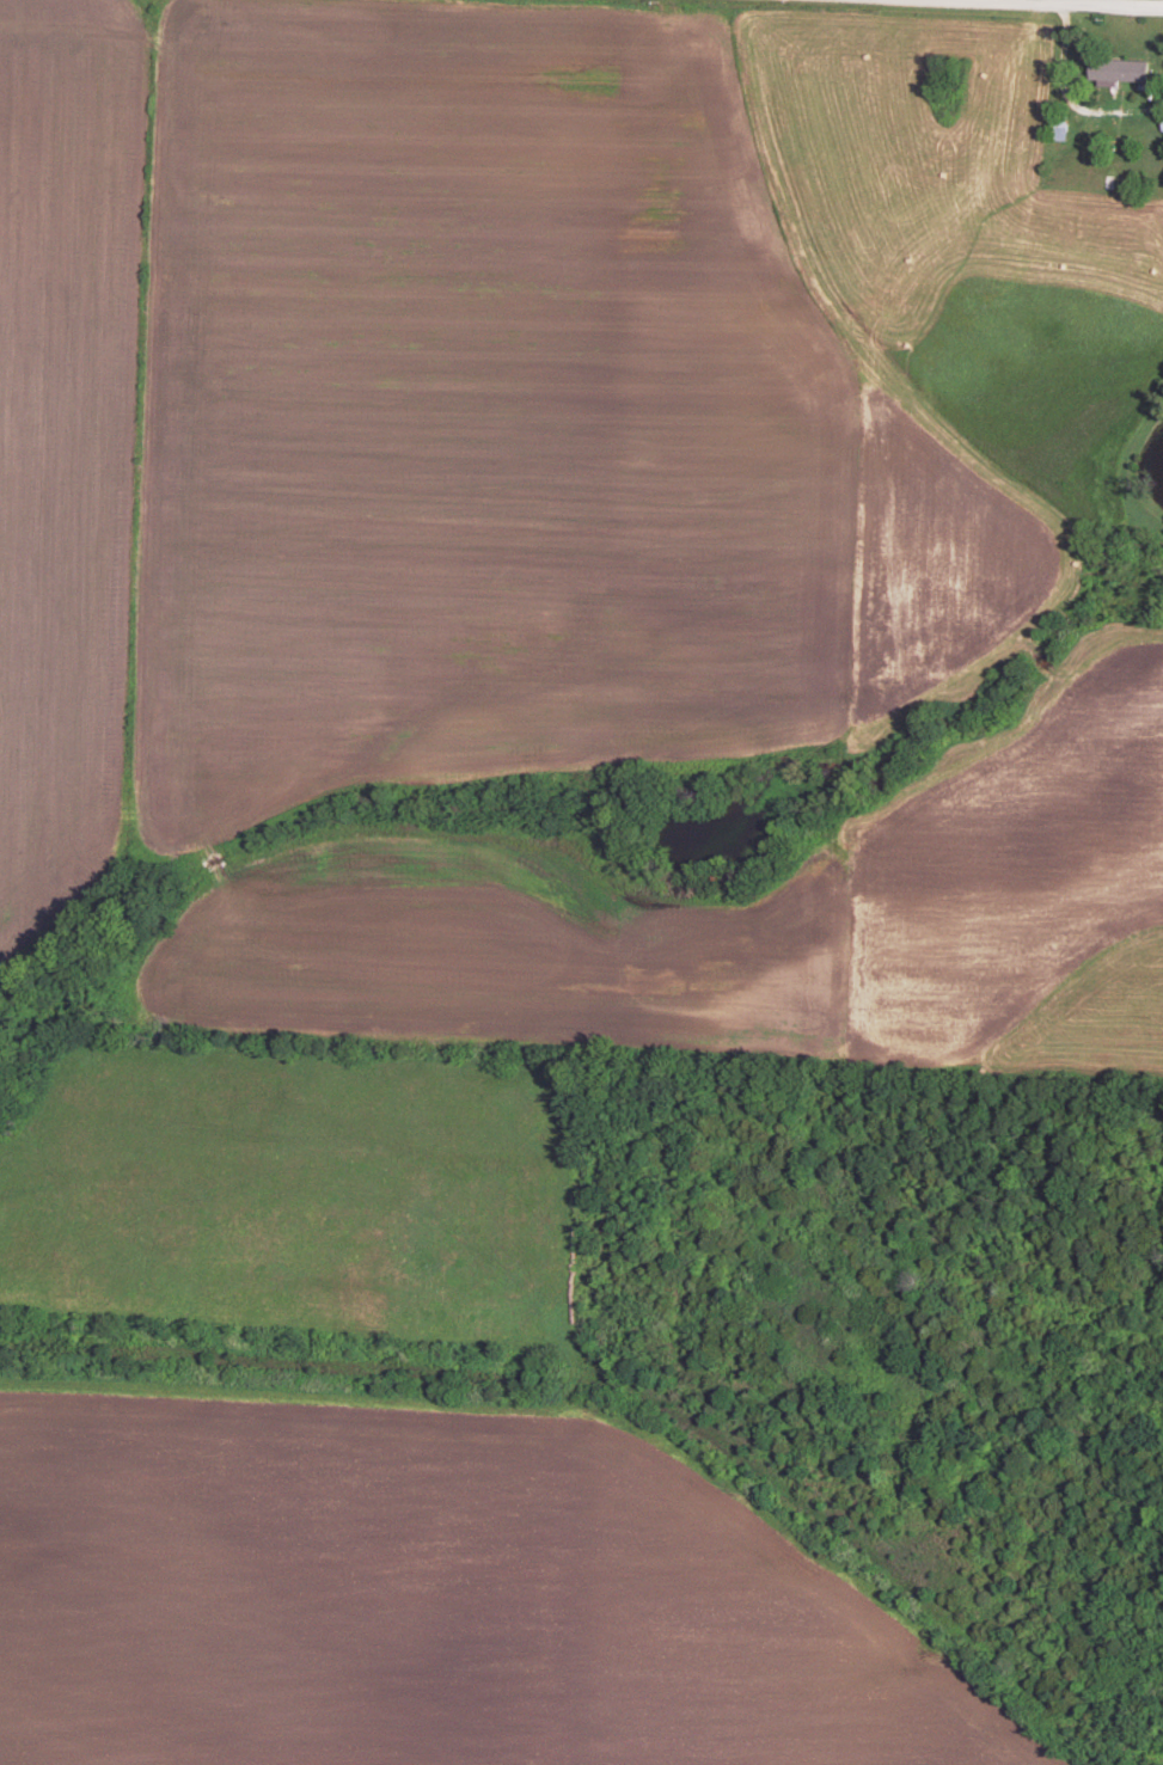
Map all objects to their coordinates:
road: (1055, 6)
building: (1125, 66)

